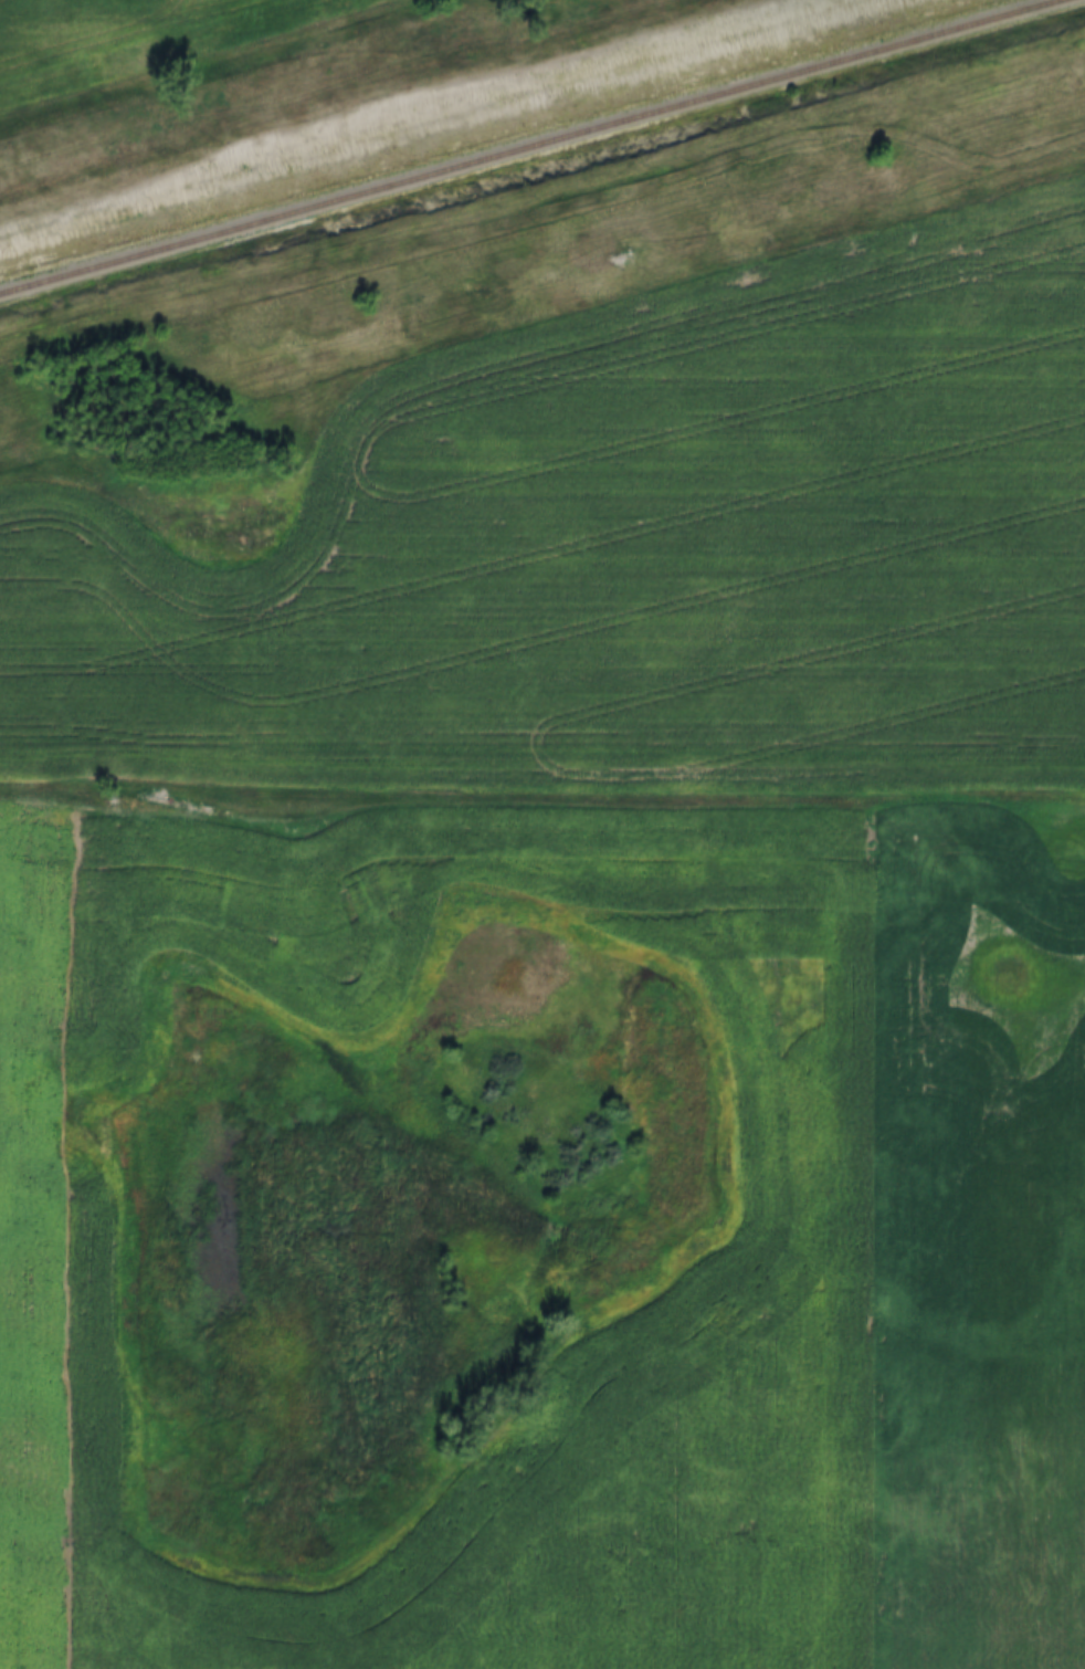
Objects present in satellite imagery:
railway: (542, 161)

